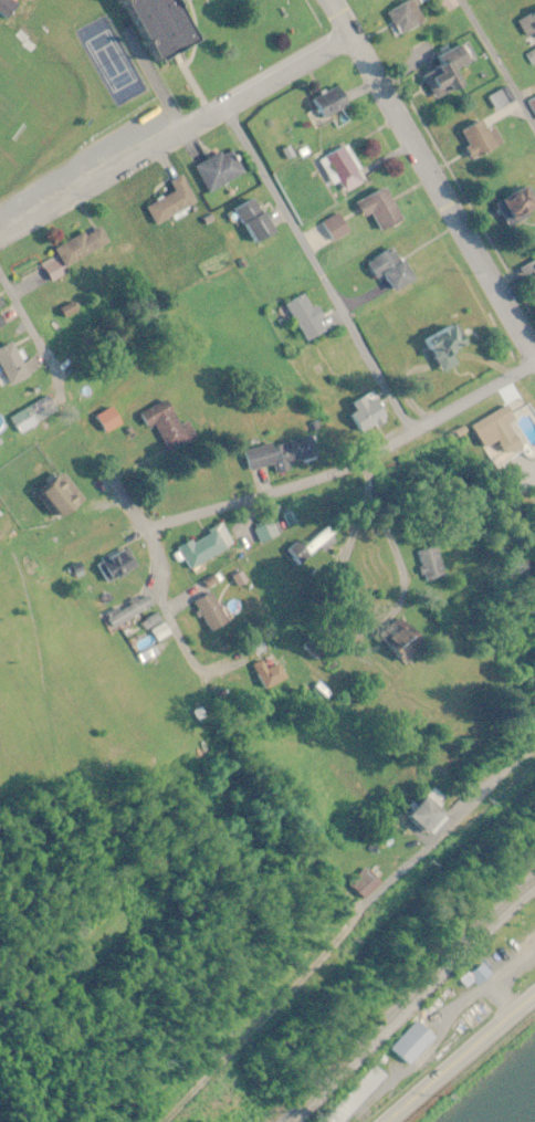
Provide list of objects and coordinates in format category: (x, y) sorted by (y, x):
building: (406, 18)
building: (167, 28)
building: (528, 28)
road: (497, 63)
building: (448, 72)
building: (532, 106)
building: (332, 107)
road: (172, 136)
building: (480, 139)
building: (342, 169)
building: (220, 170)
road: (429, 175)
building: (172, 202)
building: (520, 208)
building: (381, 210)
building: (254, 222)
building: (83, 245)
building: (392, 270)
building: (527, 270)
road: (317, 271)
building: (307, 317)
road: (27, 324)
building: (447, 347)
building: (12, 364)
building: (367, 412)
building: (33, 415)
building: (107, 420)
building: (169, 427)
building: (502, 428)
building: (283, 453)
road: (346, 466)
road: (368, 475)
building: (269, 529)
building: (206, 546)
building: (311, 547)
building: (430, 562)
road: (164, 608)
building: (130, 609)
building: (212, 611)
road: (328, 626)
building: (405, 636)
building: (269, 671)
building: (436, 811)
road: (347, 930)
railway: (412, 1006)
building: (413, 1042)
road: (461, 1059)
building: (357, 1095)

